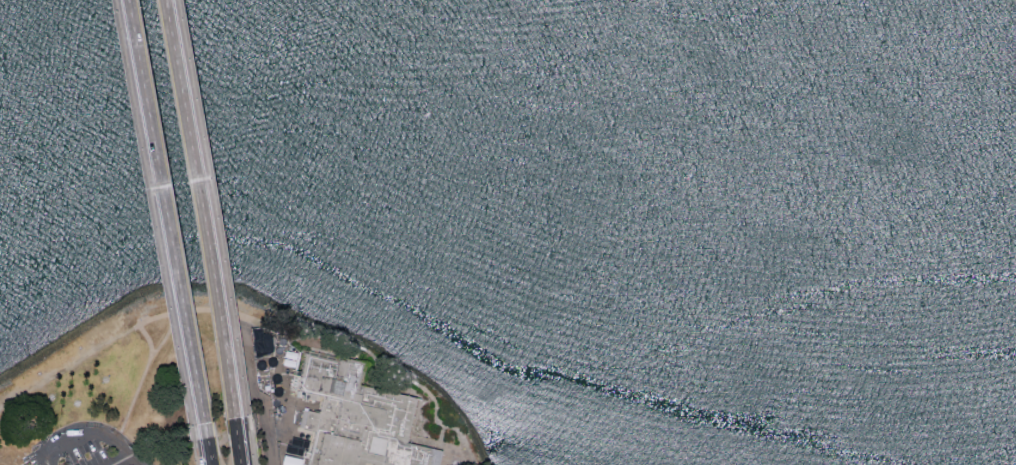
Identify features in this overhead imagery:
road: (204, 209)
road: (172, 220)
road: (225, 318)
road: (148, 358)
building: (271, 363)
road: (433, 399)
building: (356, 418)
road: (97, 432)
road: (267, 433)
road: (119, 435)
road: (244, 442)
road: (245, 442)
parking lot: (87, 448)
road: (211, 452)
road: (125, 459)
building: (290, 460)
road: (49, 463)

